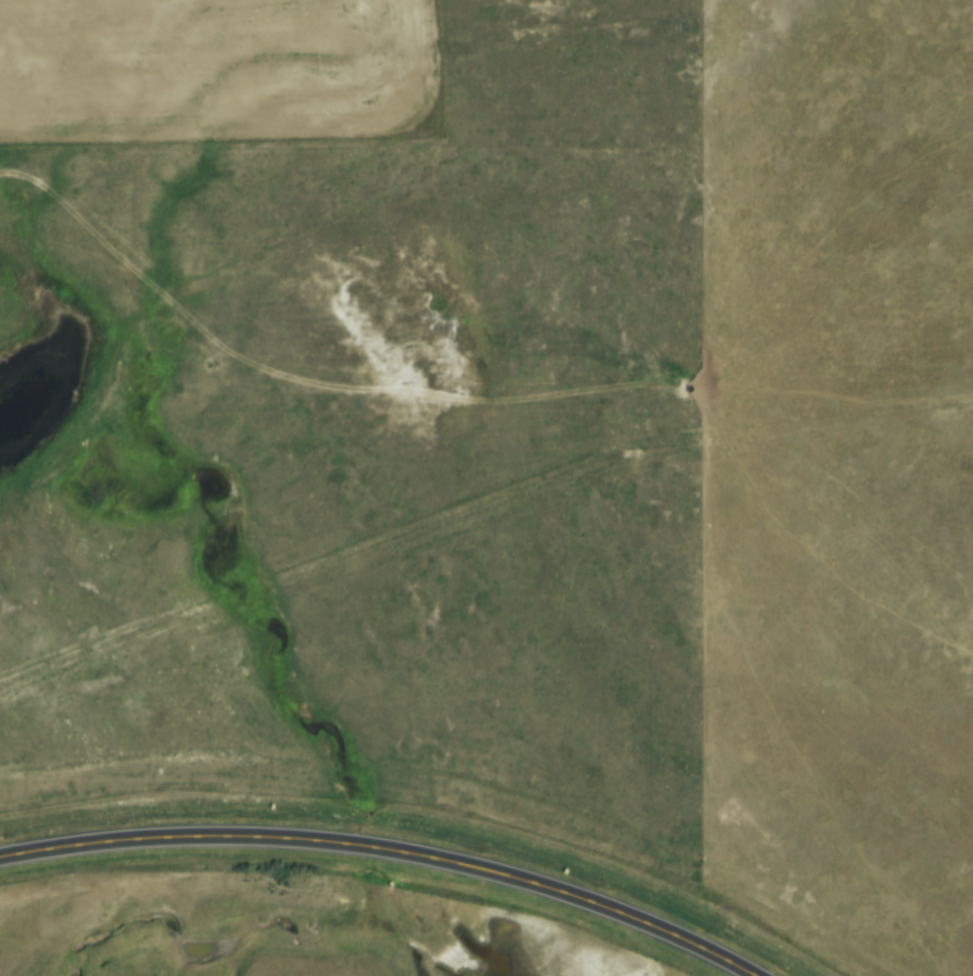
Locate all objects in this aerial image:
road: (292, 383)
road: (385, 848)

